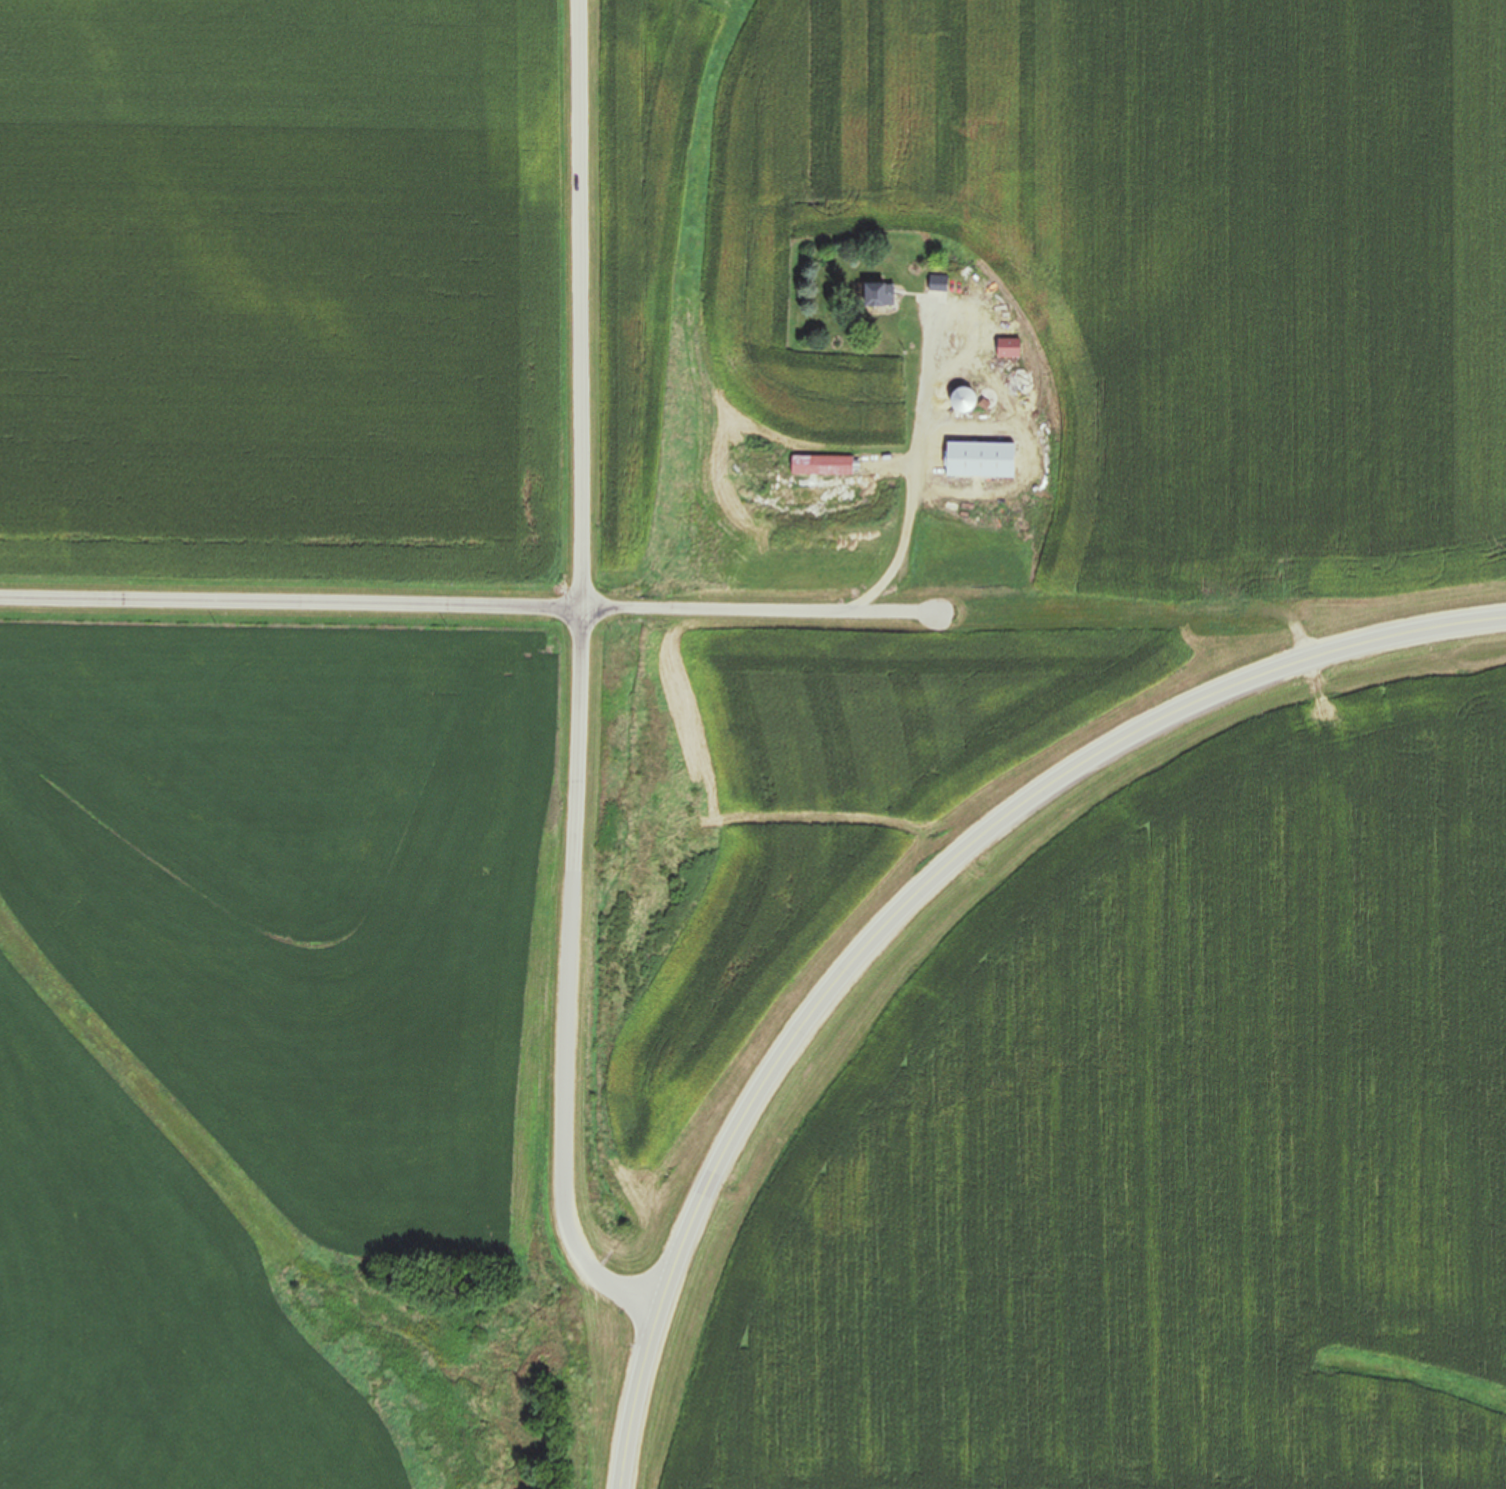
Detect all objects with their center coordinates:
building: (937, 284)
building: (875, 297)
building: (1006, 349)
building: (1014, 385)
building: (986, 399)
building: (960, 401)
building: (977, 460)
building: (820, 466)
road: (668, 609)
road: (578, 729)
road: (913, 900)

